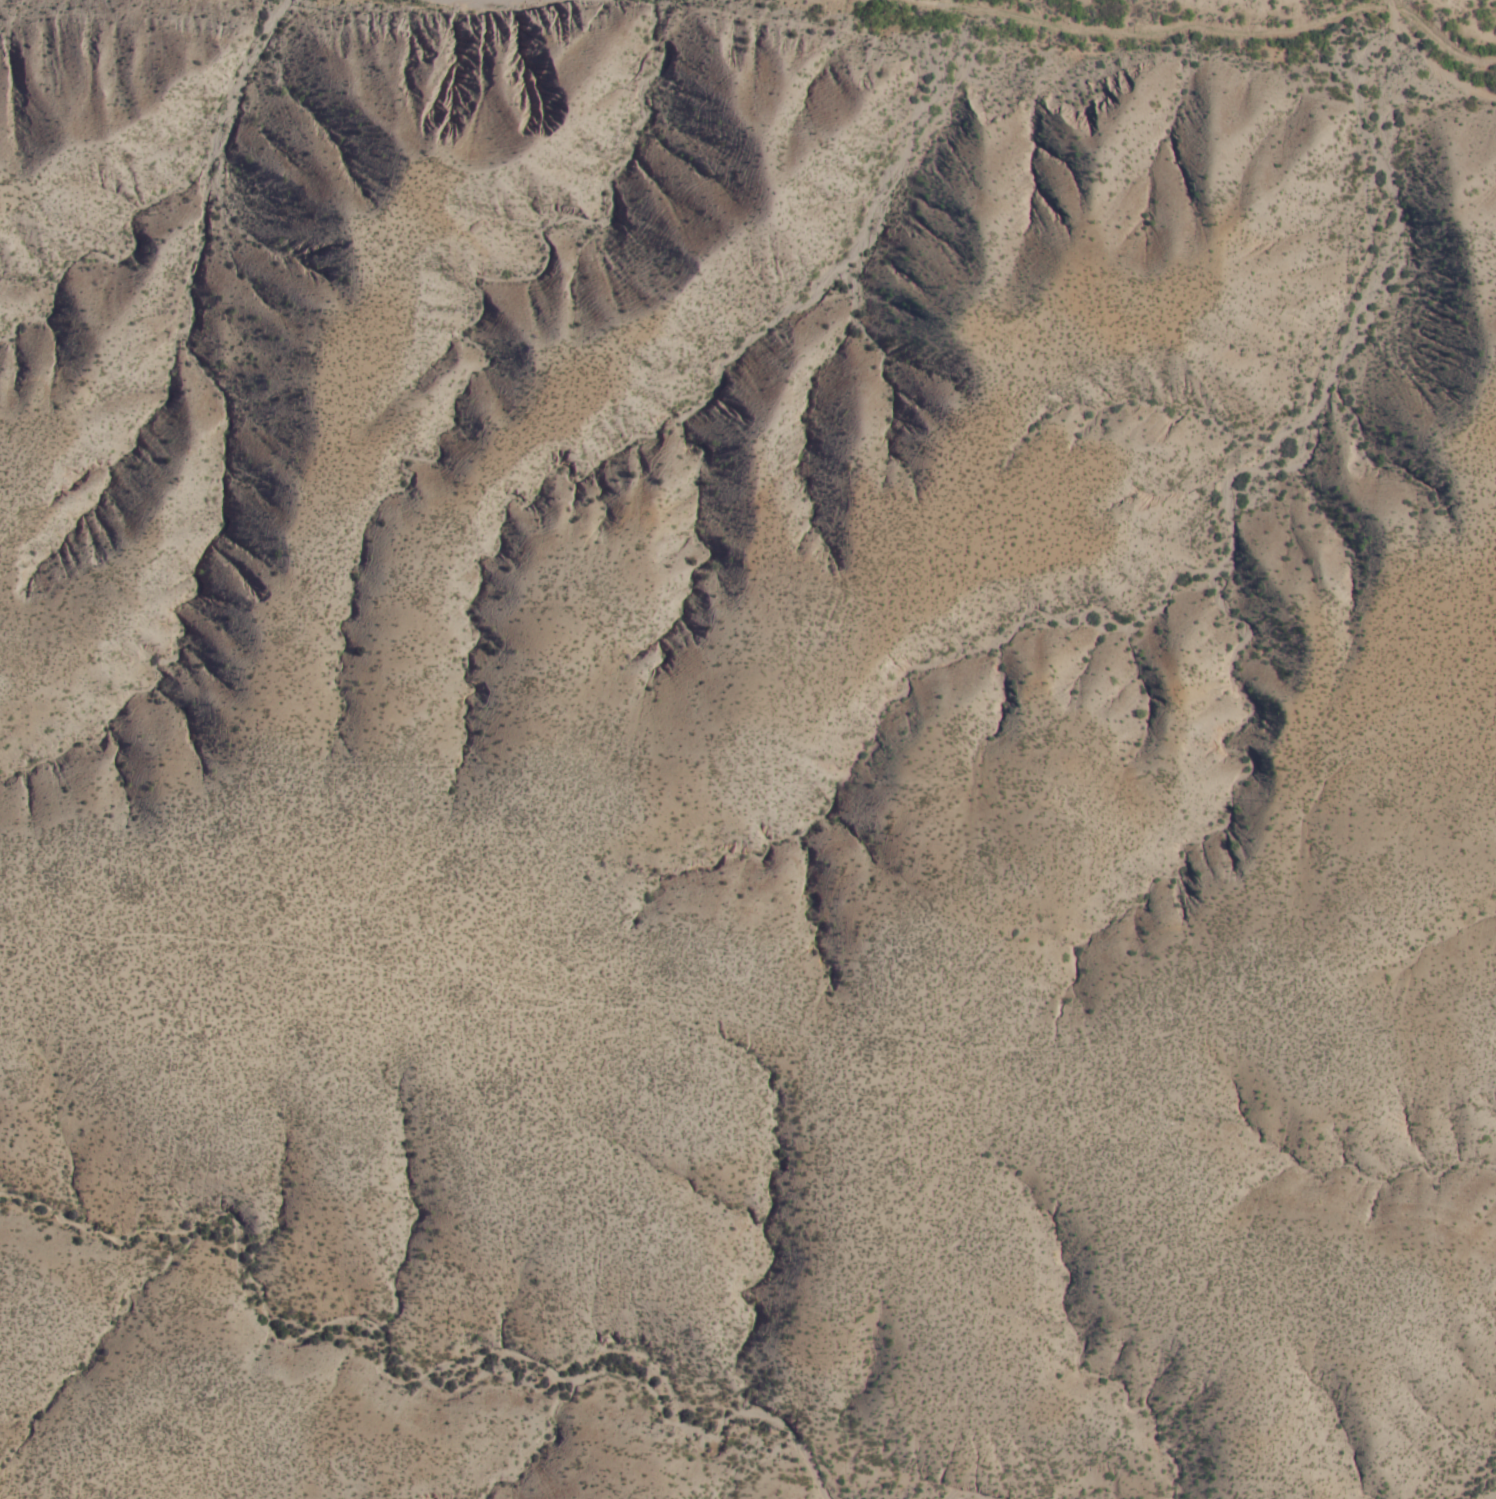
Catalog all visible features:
road: (1428, 64)

